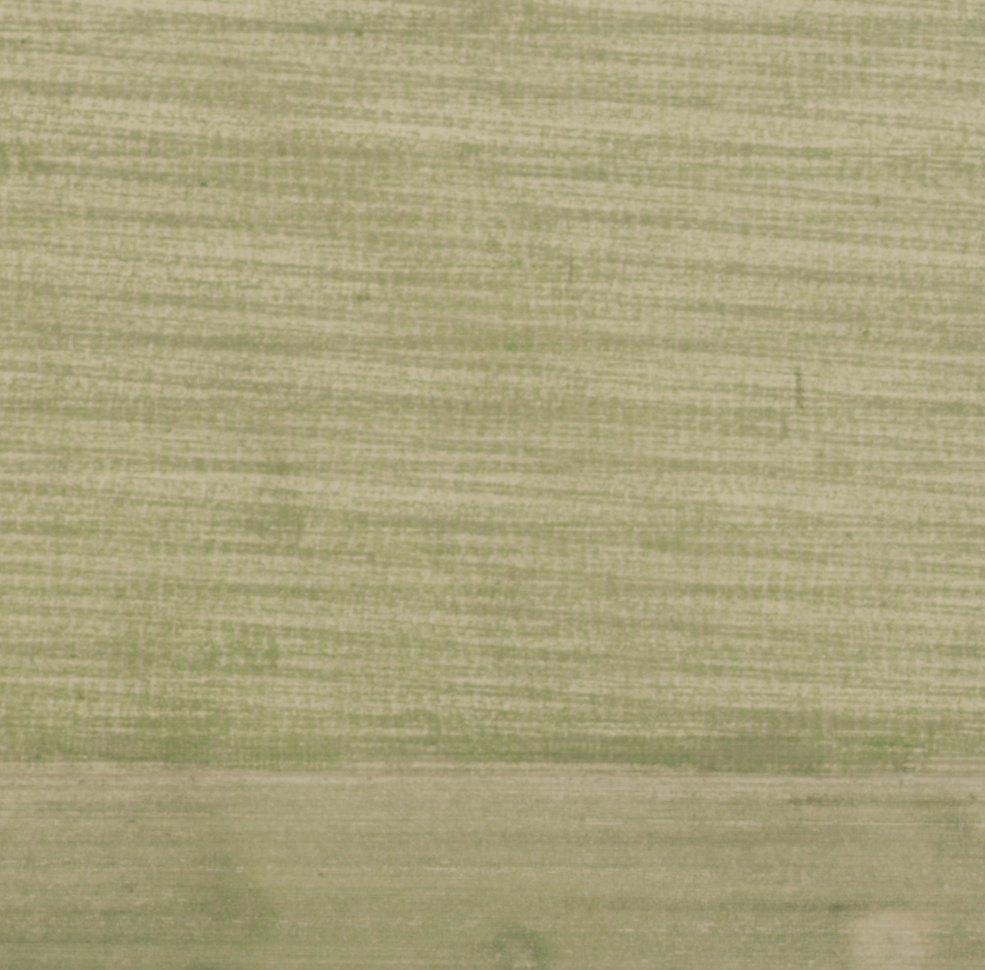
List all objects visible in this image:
crop: (492, 485)

